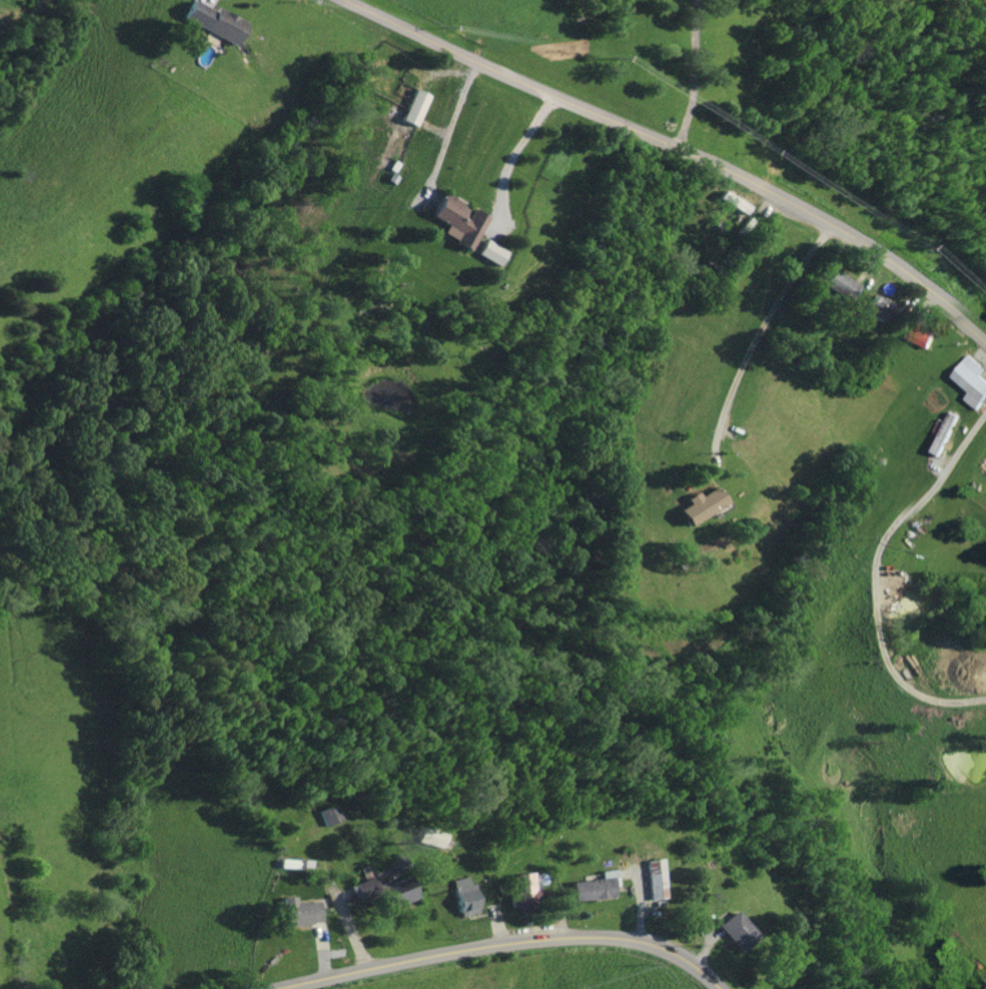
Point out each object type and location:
building: (219, 21)
road: (690, 77)
building: (421, 106)
road: (451, 134)
road: (673, 152)
road: (512, 160)
building: (461, 221)
building: (492, 251)
building: (842, 284)
building: (879, 307)
building: (922, 334)
building: (973, 380)
building: (943, 433)
building: (704, 504)
building: (330, 813)
building: (650, 878)
building: (591, 885)
building: (384, 887)
building: (521, 889)
building: (463, 894)
building: (301, 910)
building: (736, 930)
road: (491, 943)

